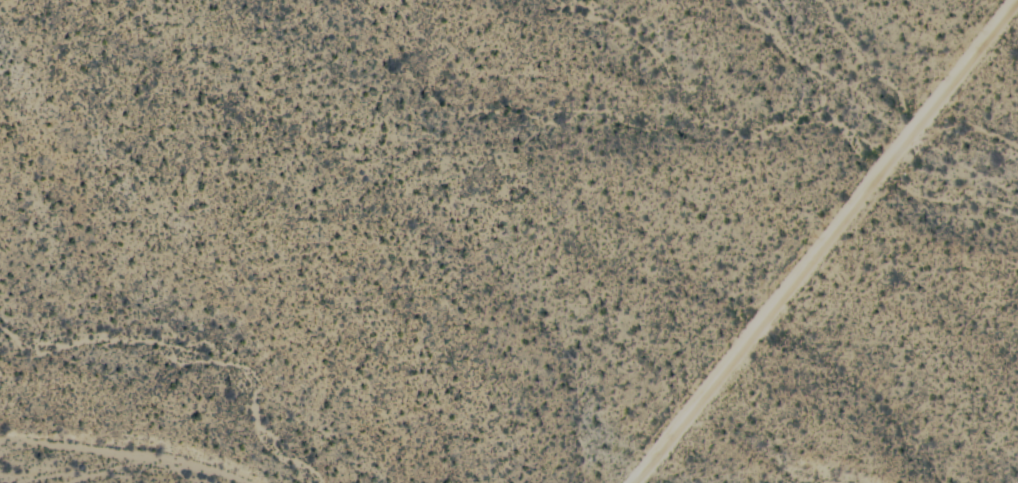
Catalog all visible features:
road: (827, 243)

